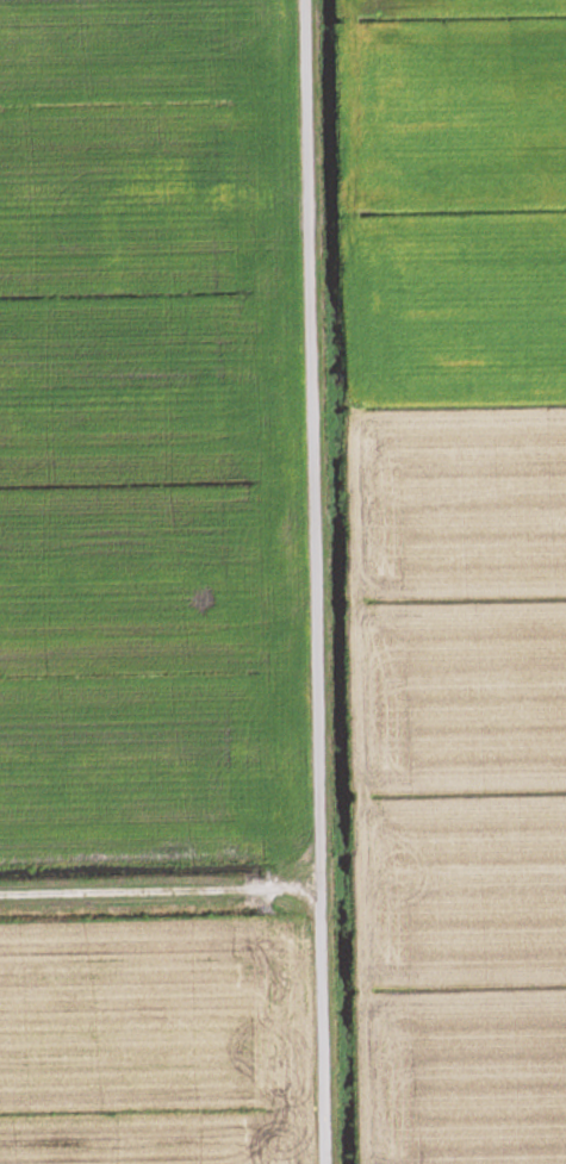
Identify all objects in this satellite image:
crop: (458, 572)
road: (297, 581)
road: (149, 895)
crop: (158, 1041)

